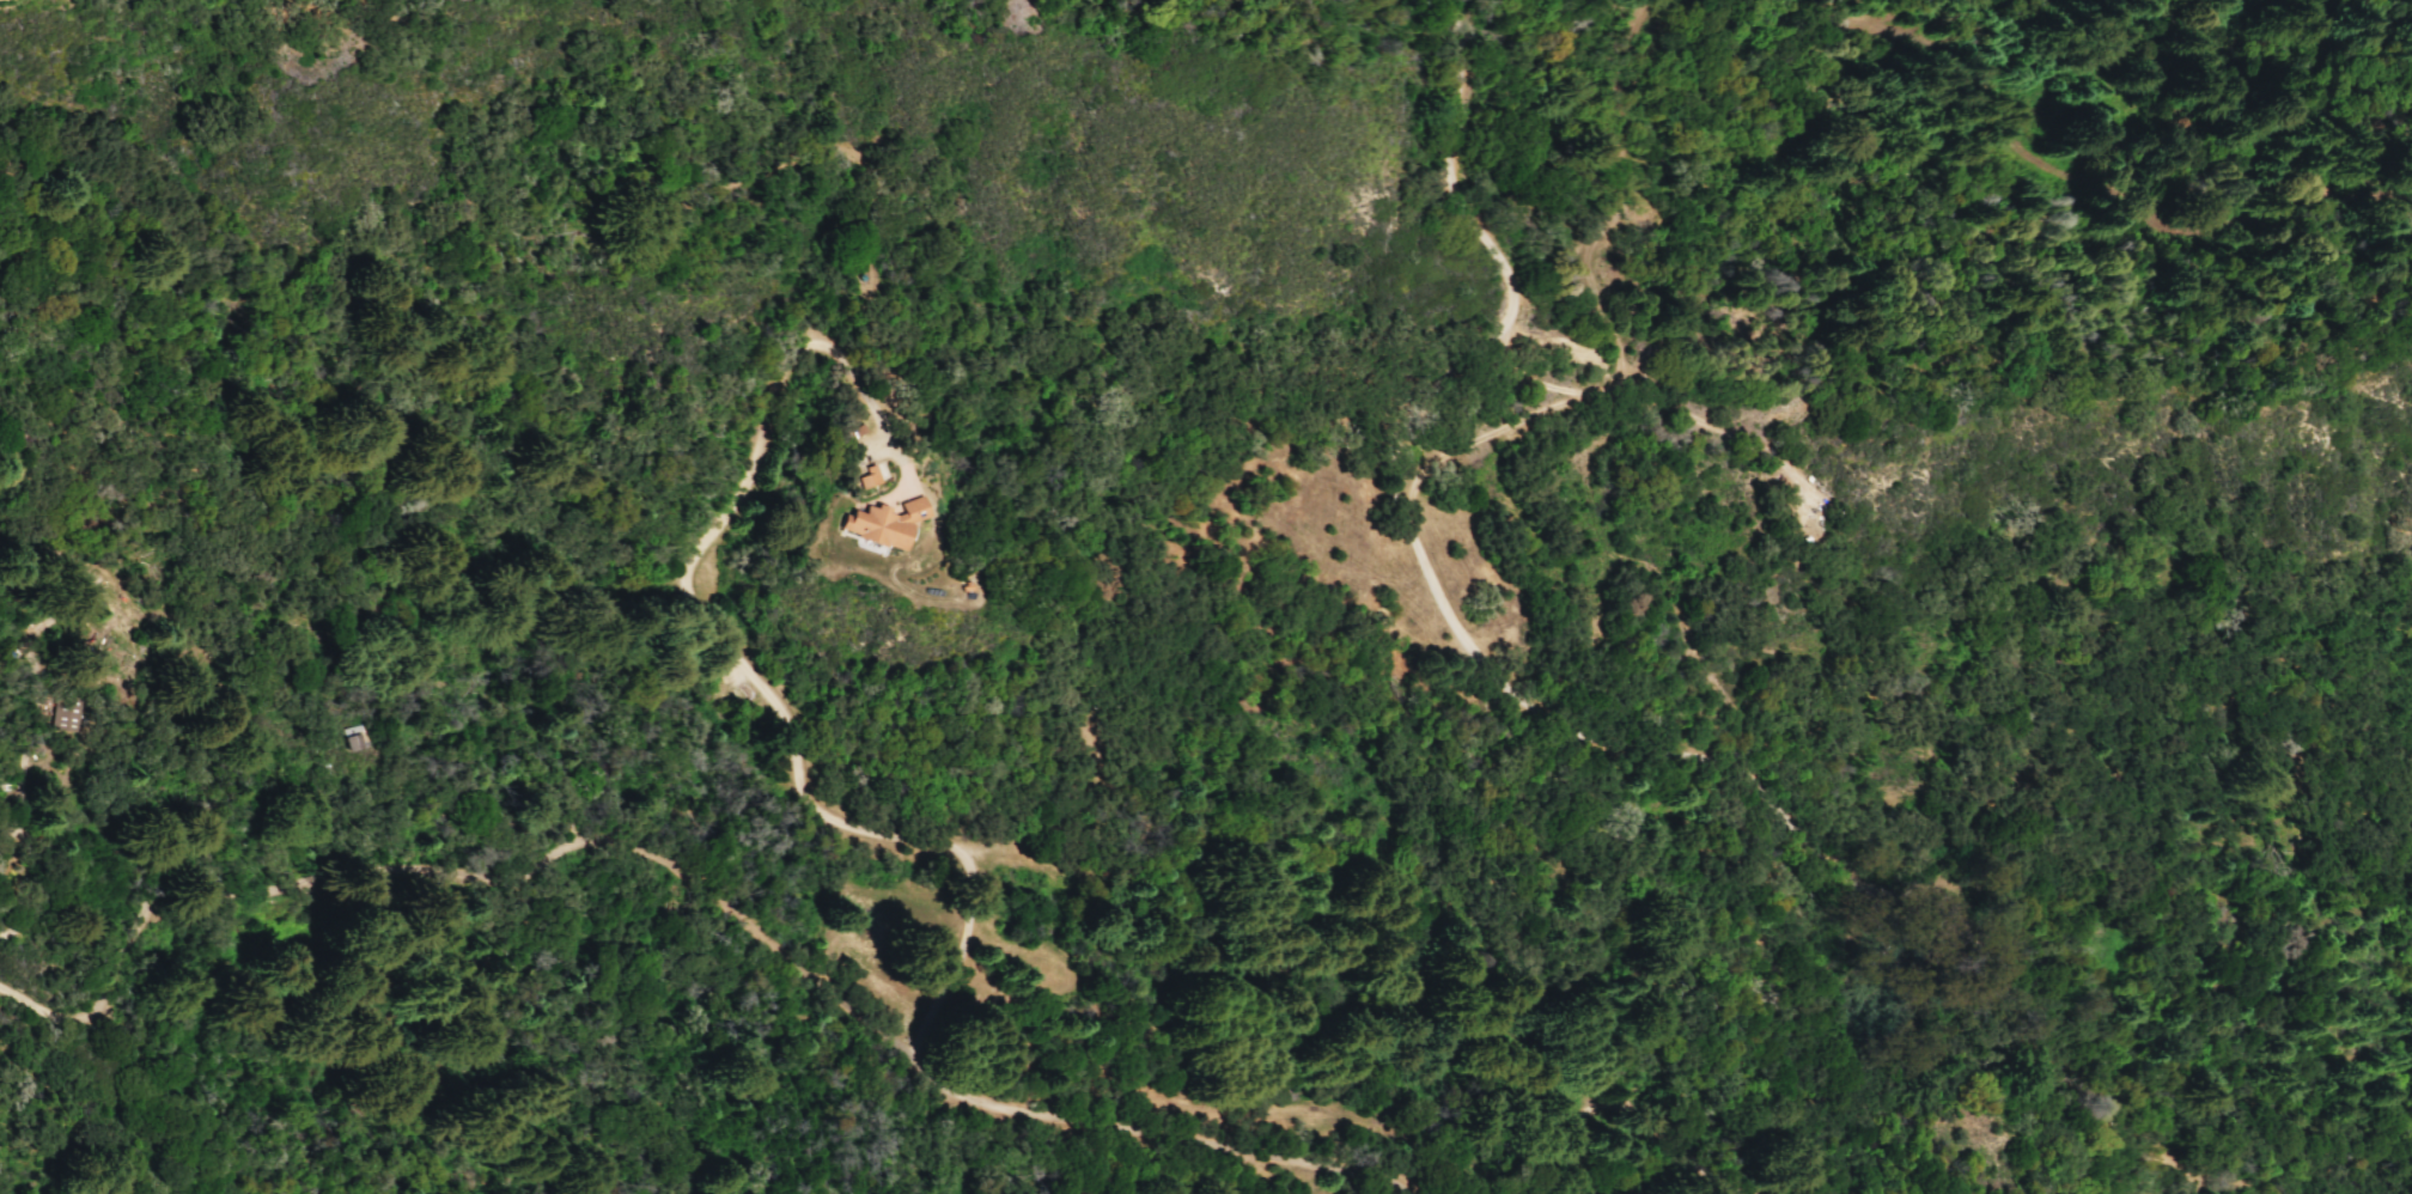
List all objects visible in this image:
road: (1627, 104)
road: (1601, 388)
road: (1661, 418)
building: (869, 475)
building: (909, 500)
building: (882, 523)
road: (747, 672)
building: (63, 713)
road: (1554, 719)
road: (693, 881)
road: (4, 931)
road: (1694, 1117)
road: (2177, 1164)

